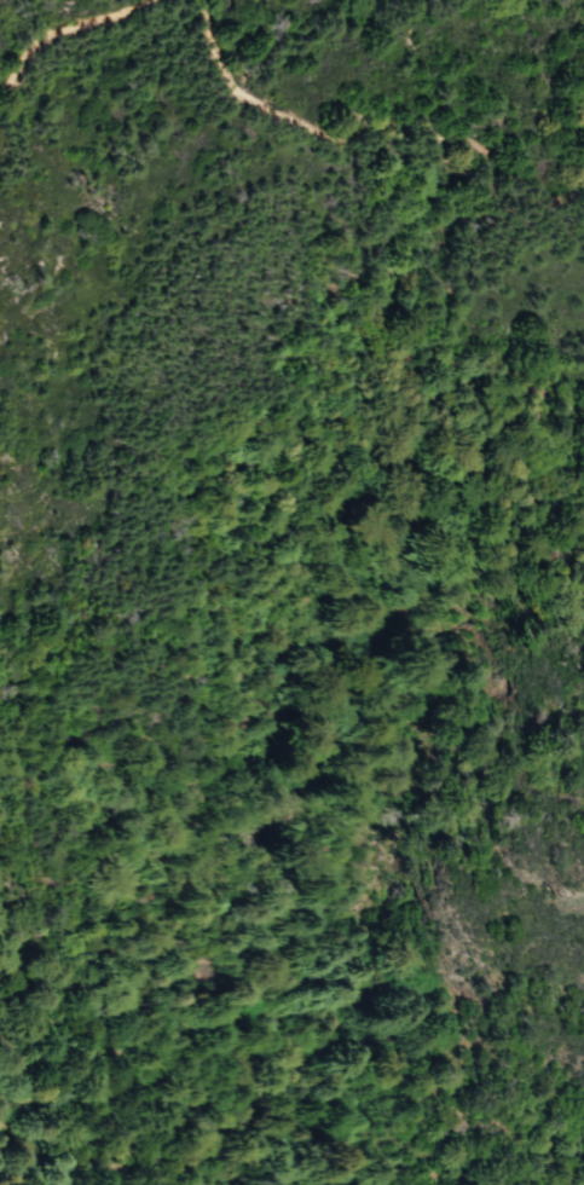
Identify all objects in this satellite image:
road: (64, 27)
road: (368, 131)

